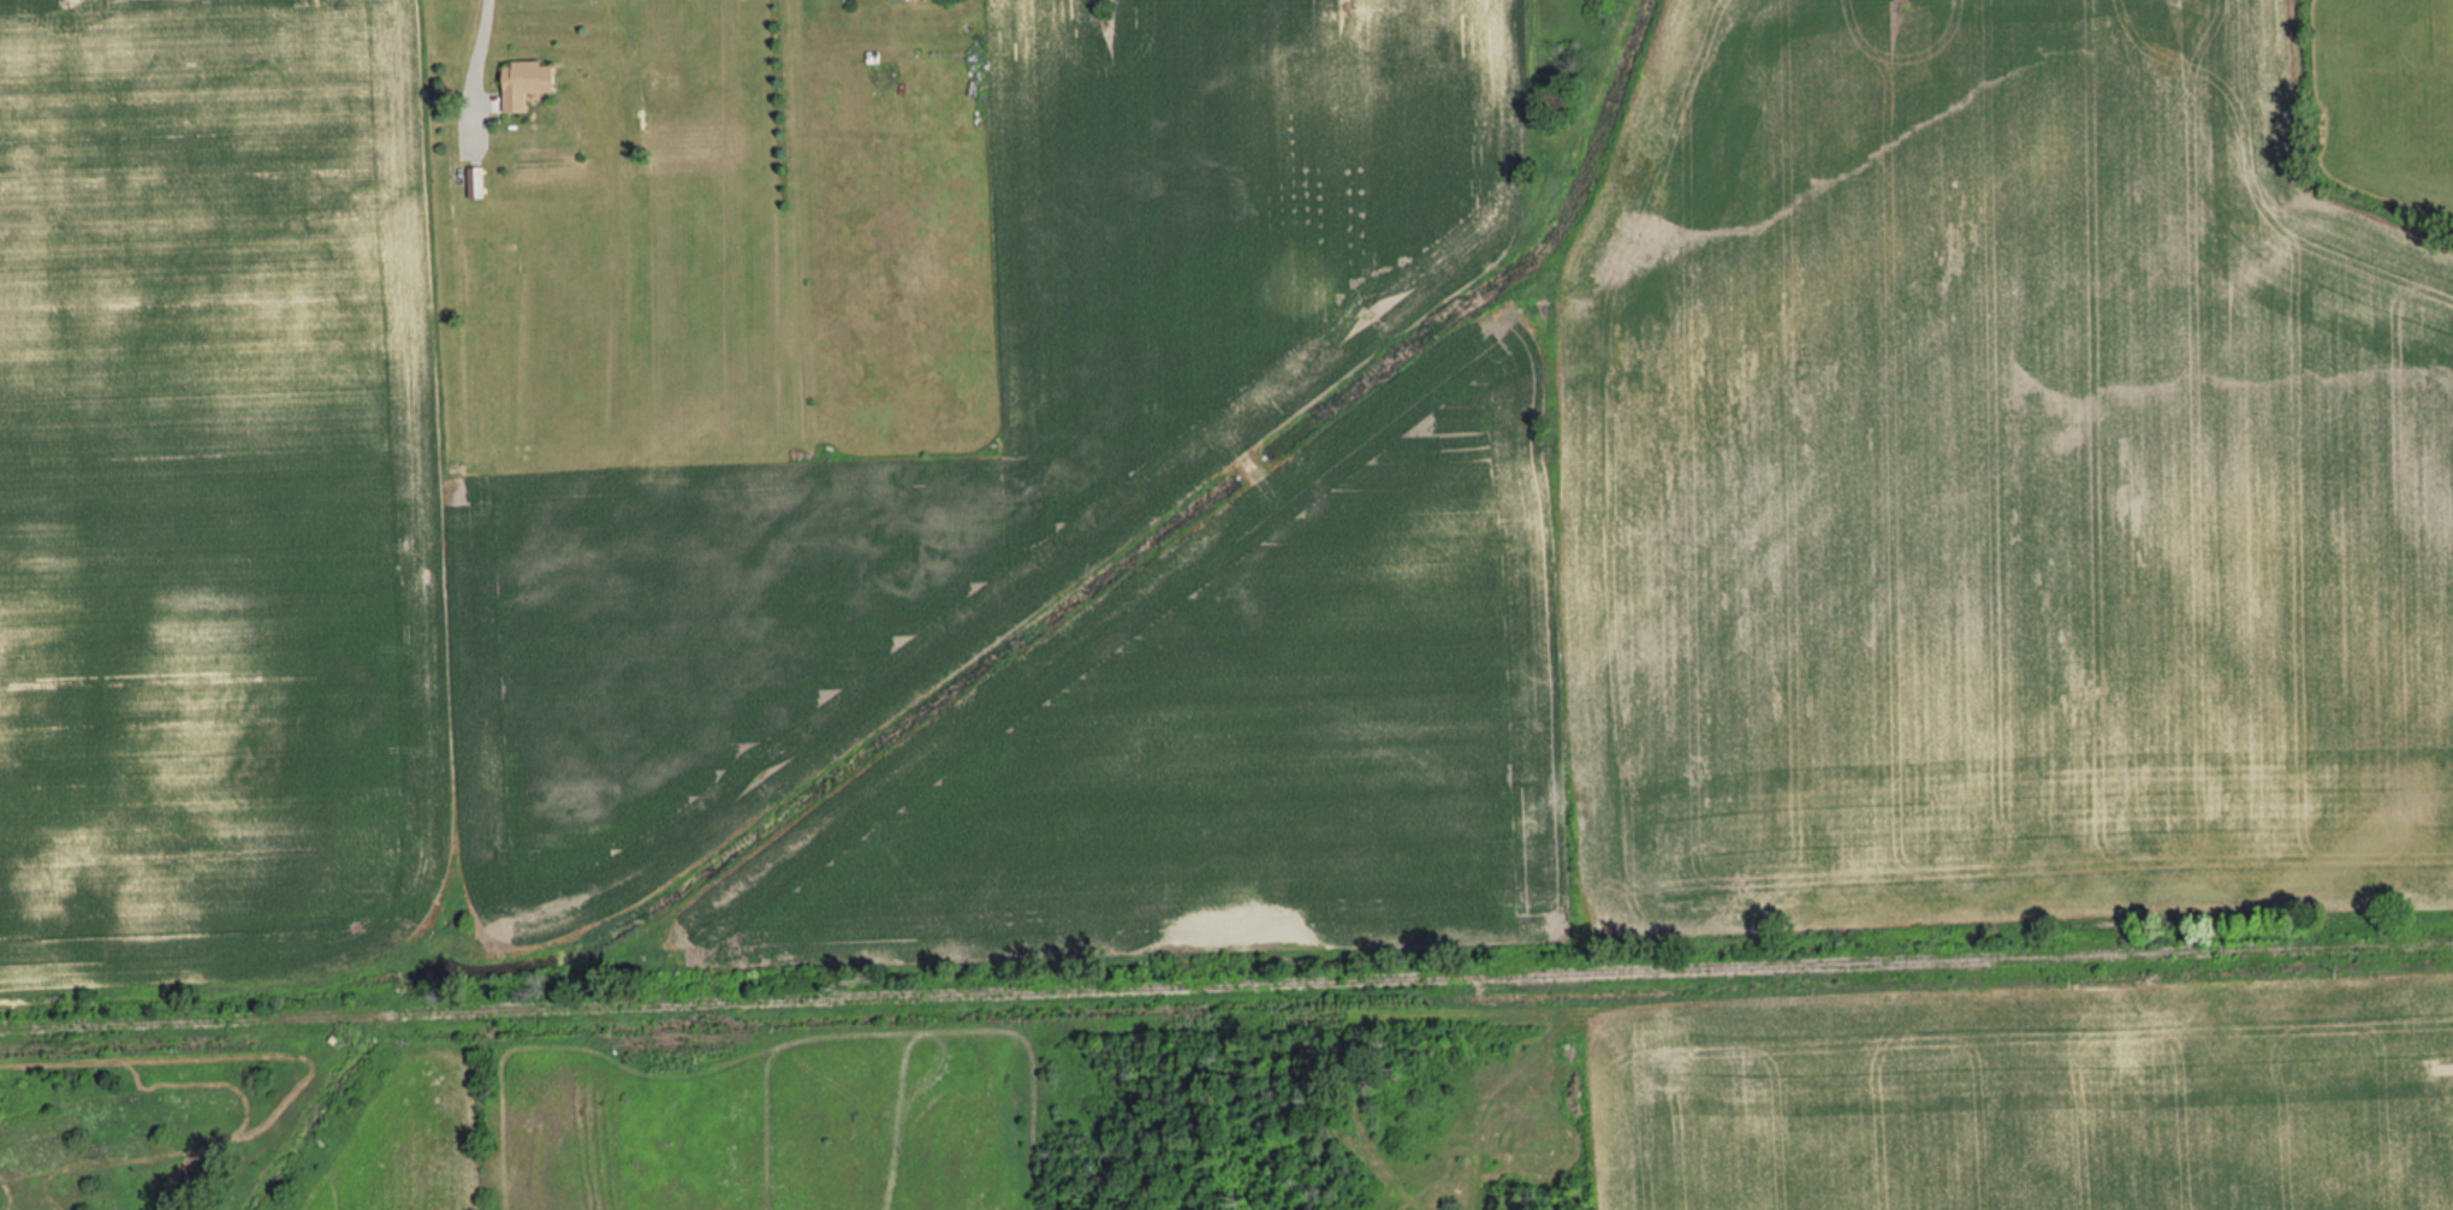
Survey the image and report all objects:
building: (527, 83)
railway: (1225, 985)

